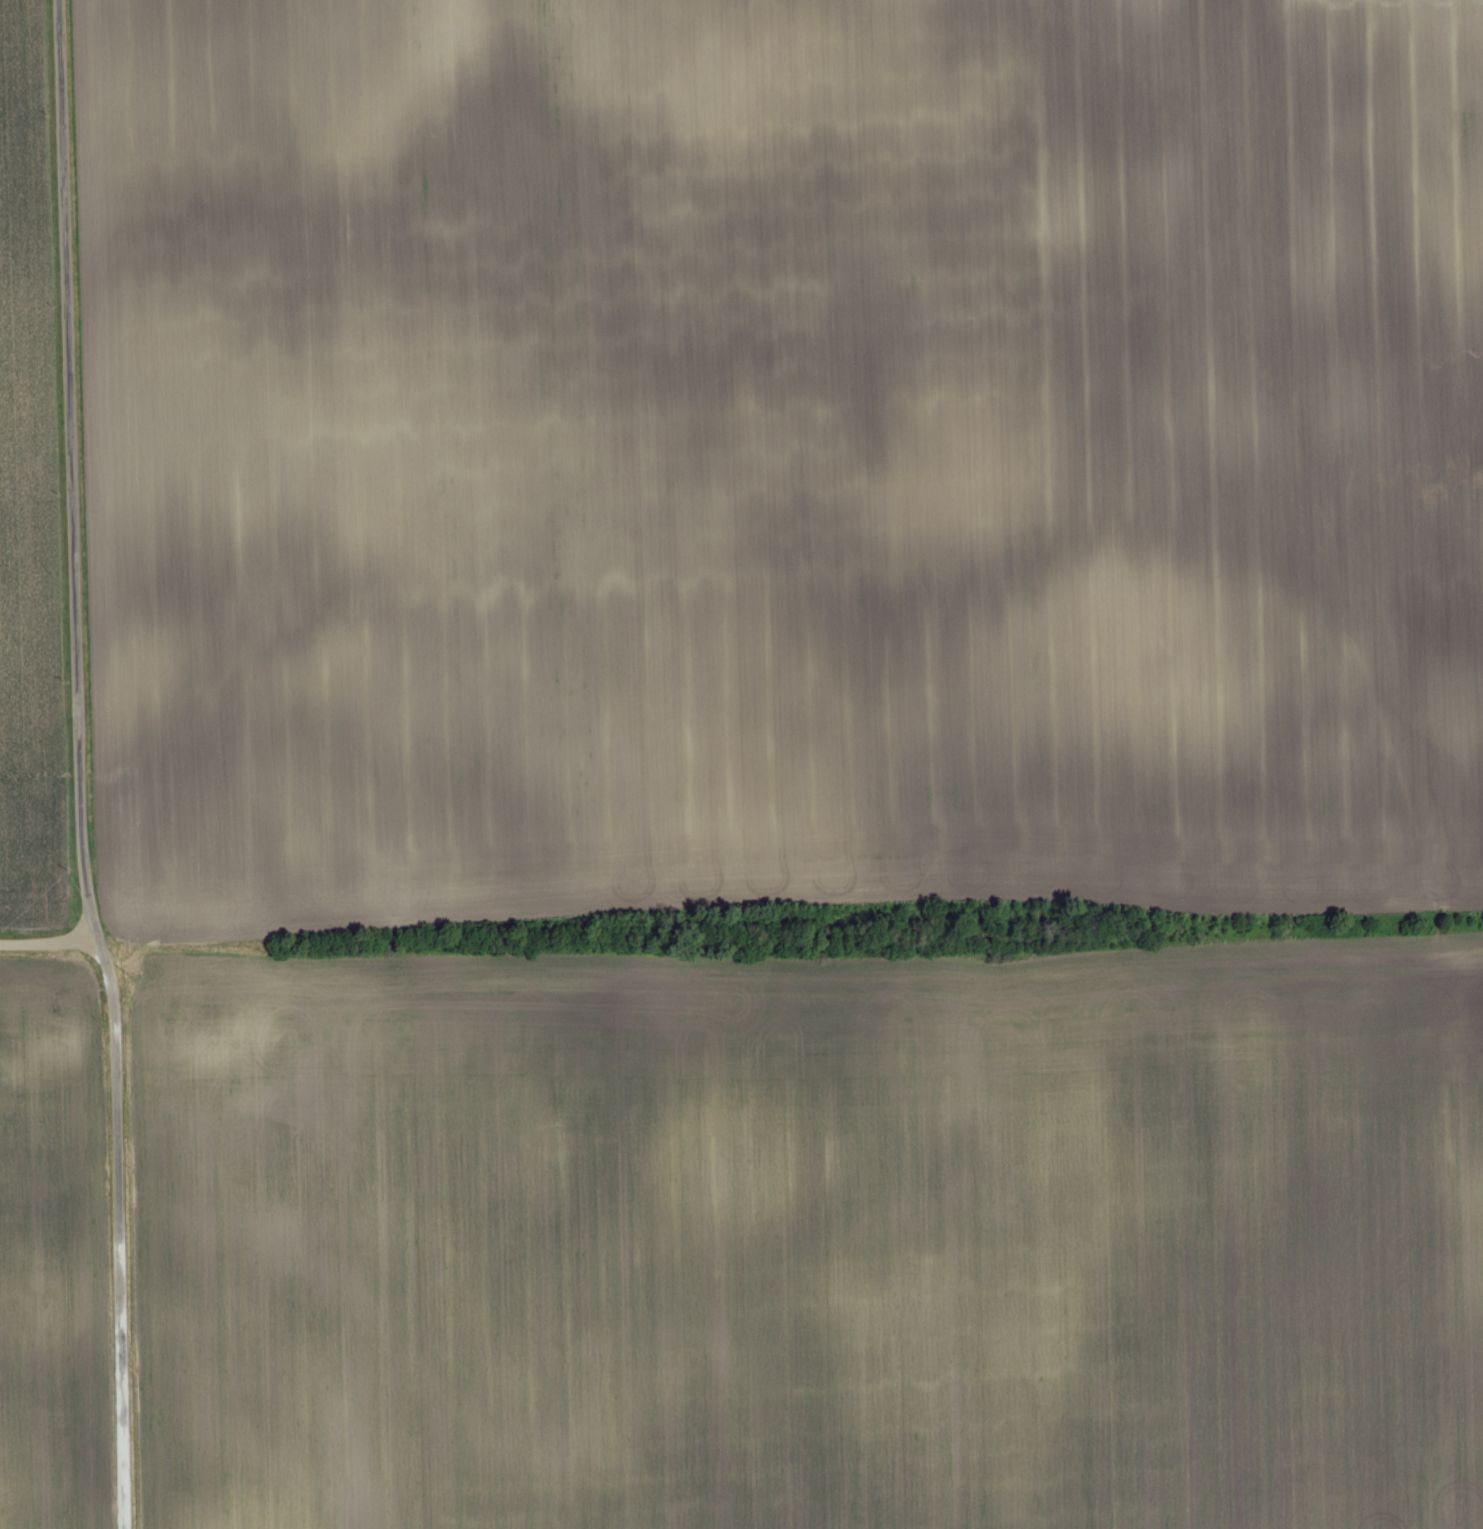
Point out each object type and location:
crop: (781, 455)
road: (72, 471)
crop: (29, 493)
road: (48, 942)
road: (119, 1233)
crop: (813, 1239)
crop: (52, 1253)

